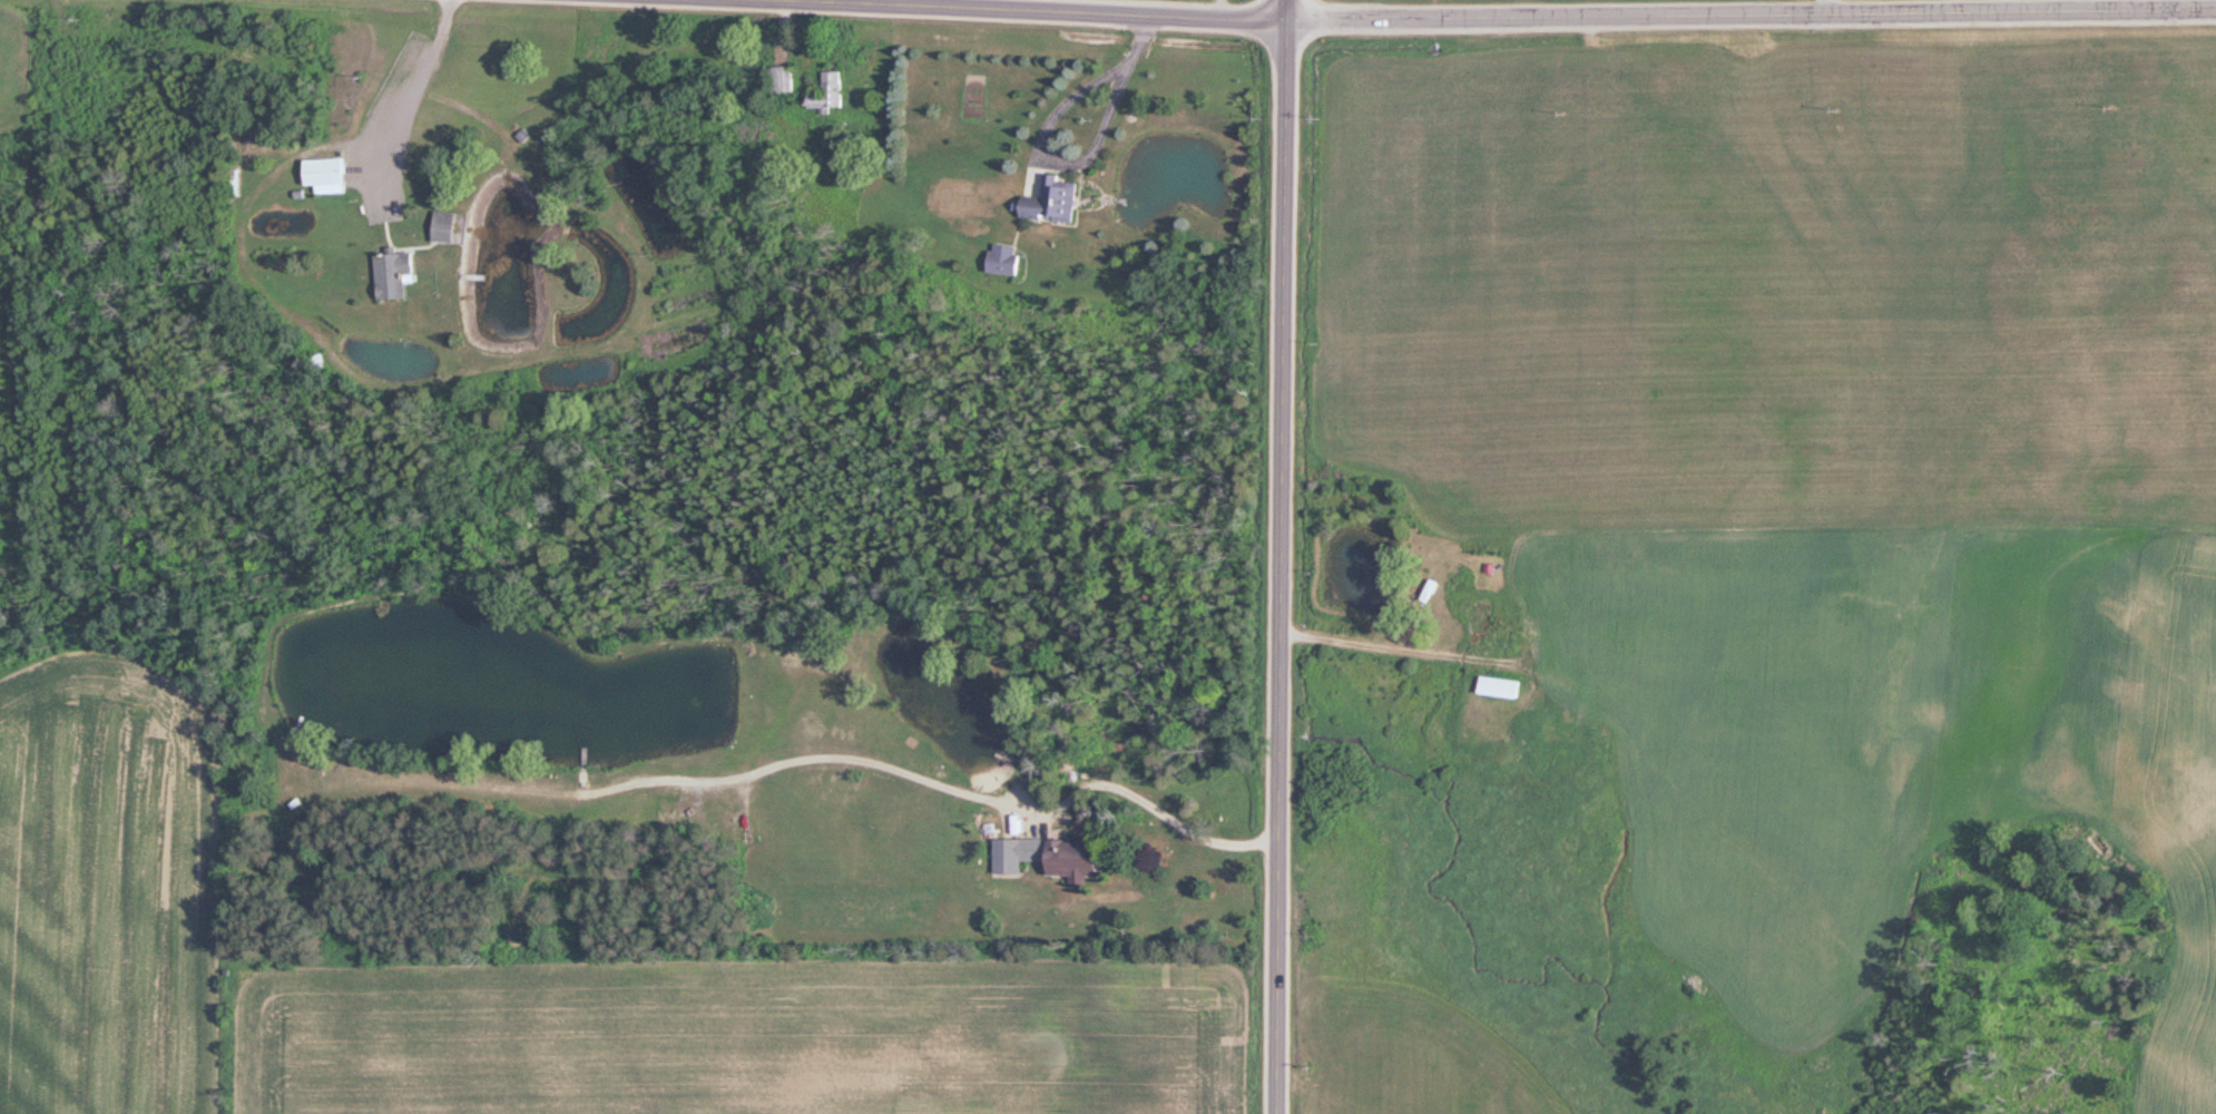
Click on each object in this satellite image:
road: (1472, 17)
building: (788, 79)
building: (835, 91)
building: (331, 175)
building: (1059, 202)
building: (450, 228)
building: (1009, 261)
building: (401, 276)
road: (1283, 556)
building: (1489, 620)
building: (1539, 628)
building: (1506, 688)
building: (1020, 854)
building: (1084, 860)

